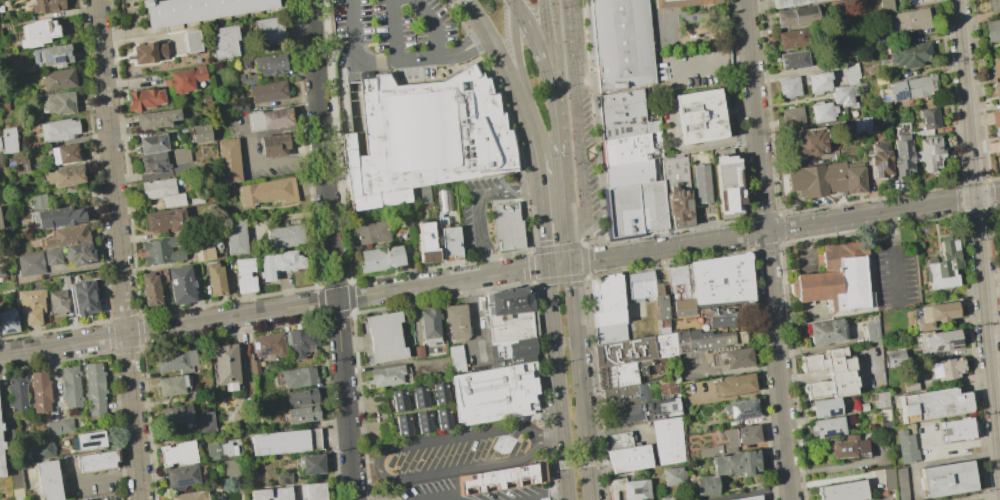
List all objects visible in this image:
road: (513, 1)
road: (514, 1)
building: (788, 2)
building: (682, 3)
building: (993, 5)
building: (47, 6)
building: (196, 10)
building: (795, 16)
road: (478, 17)
road: (544, 17)
building: (909, 20)
road: (435, 26)
building: (991, 30)
building: (267, 31)
road: (396, 31)
building: (37, 32)
parking lot: (400, 38)
building: (791, 38)
building: (191, 40)
building: (224, 42)
road: (355, 44)
building: (620, 44)
road: (516, 48)
road: (465, 50)
building: (147, 52)
road: (538, 53)
rooftop solar panel: (45, 54)
building: (909, 54)
building: (51, 55)
rooftop solar panel: (33, 56)
rooftop solar panel: (56, 58)
building: (793, 60)
road: (741, 61)
road: (370, 63)
building: (270, 64)
road: (503, 65)
road: (706, 65)
building: (995, 66)
road: (550, 71)
building: (57, 79)
building: (185, 79)
building: (246, 79)
building: (818, 82)
building: (846, 86)
building: (788, 87)
building: (908, 88)
building: (267, 91)
building: (996, 92)
rooftop solar panel: (898, 95)
building: (144, 99)
road: (805, 101)
building: (57, 102)
road: (737, 109)
building: (822, 112)
building: (623, 115)
building: (699, 116)
building: (792, 117)
building: (156, 118)
building: (269, 118)
building: (929, 118)
building: (996, 119)
road: (594, 120)
road: (580, 122)
road: (527, 124)
building: (861, 126)
building: (58, 129)
road: (269, 131)
building: (200, 133)
road: (557, 133)
building: (427, 138)
building: (8, 140)
building: (811, 141)
building: (152, 143)
building: (274, 145)
building: (0, 147)
building: (999, 147)
building: (630, 149)
building: (901, 151)
building: (929, 152)
building: (63, 154)
building: (180, 155)
building: (879, 159)
road: (286, 160)
building: (153, 161)
building: (228, 161)
building: (18, 162)
rooftop solar panel: (878, 165)
building: (1, 167)
road: (538, 171)
building: (631, 173)
rooftop solar panel: (874, 173)
building: (64, 175)
building: (827, 179)
building: (701, 184)
building: (728, 186)
building: (161, 191)
building: (267, 191)
building: (676, 192)
traffic signals: (974, 197)
road: (562, 198)
building: (38, 201)
building: (443, 201)
road: (477, 203)
parking lot: (478, 208)
building: (635, 208)
building: (59, 217)
road: (755, 218)
building: (165, 220)
building: (0, 226)
building: (507, 226)
road: (543, 227)
road: (746, 227)
road: (784, 229)
road: (590, 230)
road: (664, 231)
building: (373, 232)
building: (596, 232)
building: (66, 236)
building: (234, 236)
building: (284, 236)
road: (978, 239)
building: (425, 242)
building: (206, 243)
building: (450, 243)
road: (556, 248)
road: (767, 249)
road: (117, 250)
building: (161, 250)
road: (332, 250)
road: (567, 250)
building: (79, 253)
building: (52, 256)
road: (894, 256)
building: (381, 258)
road: (664, 258)
building: (30, 263)
building: (278, 263)
traffic signals: (569, 264)
road: (558, 265)
traffic signals: (547, 266)
building: (942, 266)
road: (518, 270)
building: (1, 271)
building: (244, 275)
parking lot: (896, 276)
road: (479, 277)
building: (214, 279)
road: (560, 279)
building: (725, 281)
building: (63, 282)
building: (181, 284)
building: (838, 284)
building: (644, 285)
building: (150, 289)
building: (684, 291)
building: (83, 297)
building: (58, 301)
building: (507, 301)
building: (610, 301)
building: (30, 305)
building: (667, 308)
building: (932, 314)
road: (234, 316)
road: (473, 318)
building: (730, 318)
rooftop solar panel: (14, 320)
building: (455, 320)
building: (7, 322)
building: (428, 325)
building: (509, 326)
road: (702, 327)
rooftop solar panel: (8, 330)
building: (871, 330)
building: (825, 331)
building: (612, 334)
building: (384, 337)
building: (938, 339)
building: (711, 340)
rooftop solar panel: (953, 340)
building: (268, 345)
building: (300, 346)
rooftop solar panel: (936, 346)
building: (418, 351)
building: (512, 352)
building: (455, 358)
building: (632, 358)
building: (735, 358)
building: (892, 358)
building: (176, 363)
building: (223, 365)
building: (945, 367)
building: (828, 373)
road: (995, 374)
building: (385, 375)
building: (299, 378)
road: (579, 381)
road: (558, 382)
building: (171, 385)
building: (70, 386)
building: (738, 386)
building: (669, 387)
building: (93, 388)
building: (228, 388)
building: (39, 392)
building: (438, 392)
building: (16, 394)
building: (492, 394)
building: (418, 396)
building: (627, 396)
building: (397, 399)
building: (300, 400)
building: (933, 404)
rooftop solar panel: (754, 407)
building: (823, 407)
building: (740, 409)
rooftop solar panel: (732, 410)
building: (653, 412)
rooftop solar panel: (834, 412)
building: (172, 415)
rooftop solar panel: (743, 415)
building: (302, 417)
building: (441, 418)
building: (209, 421)
building: (422, 421)
building: (401, 425)
building: (0, 426)
building: (59, 427)
building: (825, 427)
building: (957, 428)
rooftop solar panel: (827, 434)
rooftop solar panel: (96, 435)
road: (550, 435)
building: (738, 436)
building: (89, 440)
building: (620, 441)
building: (672, 441)
rooftop solar panel: (91, 442)
building: (1, 444)
building: (285, 444)
building: (846, 447)
building: (905, 447)
building: (41, 449)
building: (218, 450)
building: (708, 451)
parking lot: (460, 452)
building: (177, 454)
road: (999, 456)
building: (633, 458)
building: (95, 460)
building: (734, 463)
road: (576, 464)
building: (0, 466)
building: (311, 467)
building: (230, 468)
road: (380, 468)
building: (671, 476)
road: (97, 478)
building: (504, 478)
building: (944, 478)
building: (15, 479)
building: (179, 479)
building: (47, 480)
rooftop solar panel: (183, 482)
building: (894, 482)
building: (702, 486)
building: (631, 490)
building: (842, 491)
parking lot: (458, 492)
building: (302, 493)
building: (315, 493)
building: (280, 494)
building: (259, 495)
building: (190, 497)
building: (751, 498)
road: (559, 499)

